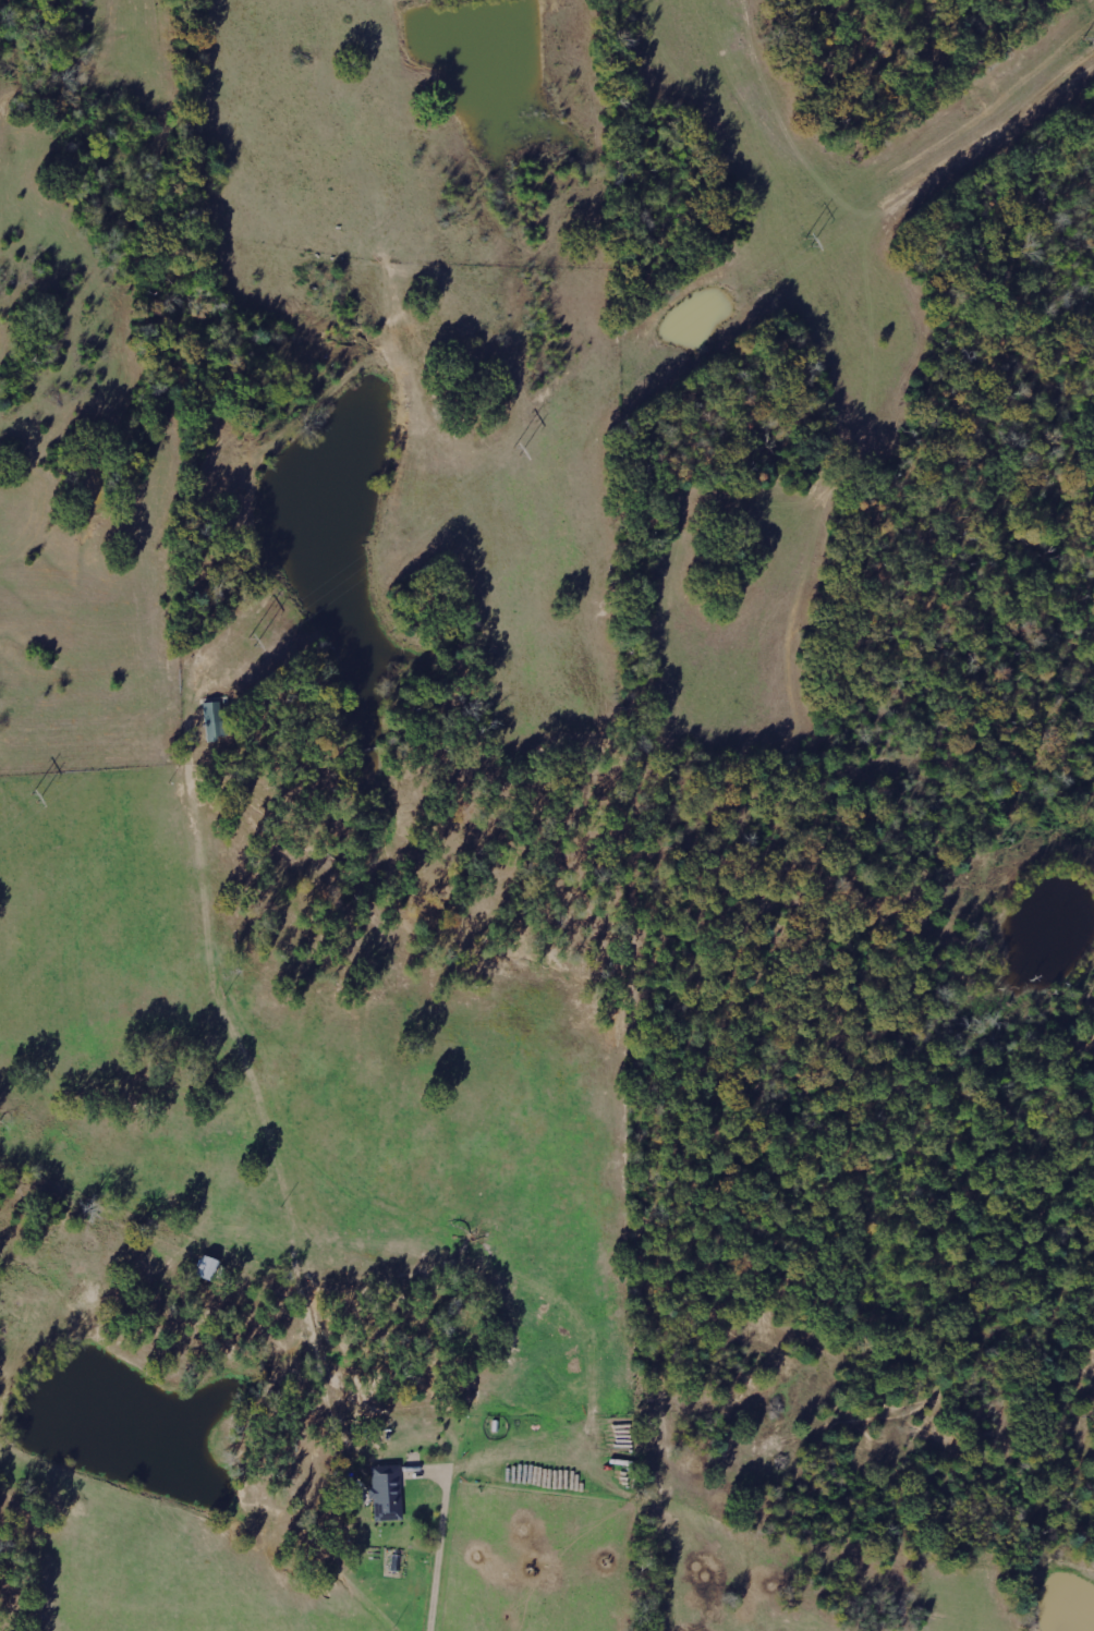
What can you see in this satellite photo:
building: (215, 719)
building: (386, 1493)
road: (220, 1571)

